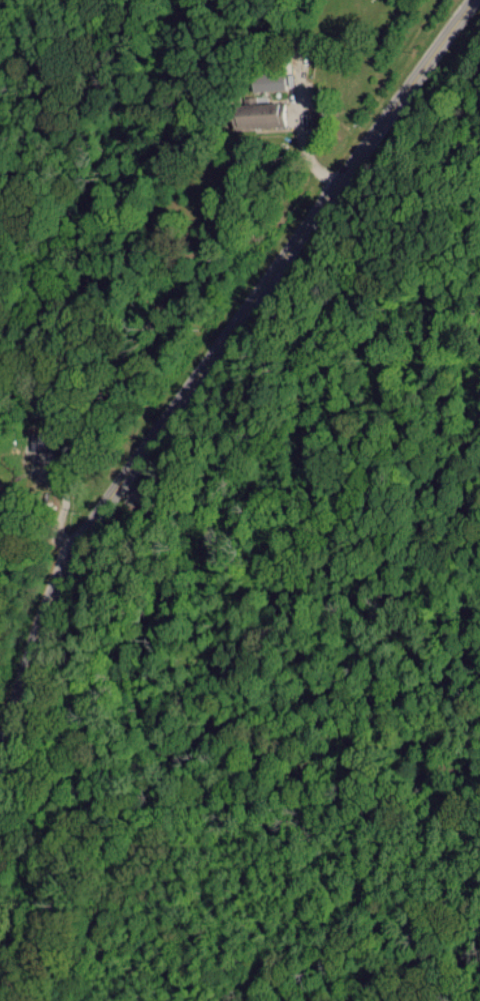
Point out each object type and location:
building: (266, 81)
building: (258, 113)
road: (213, 357)
park: (198, 529)

